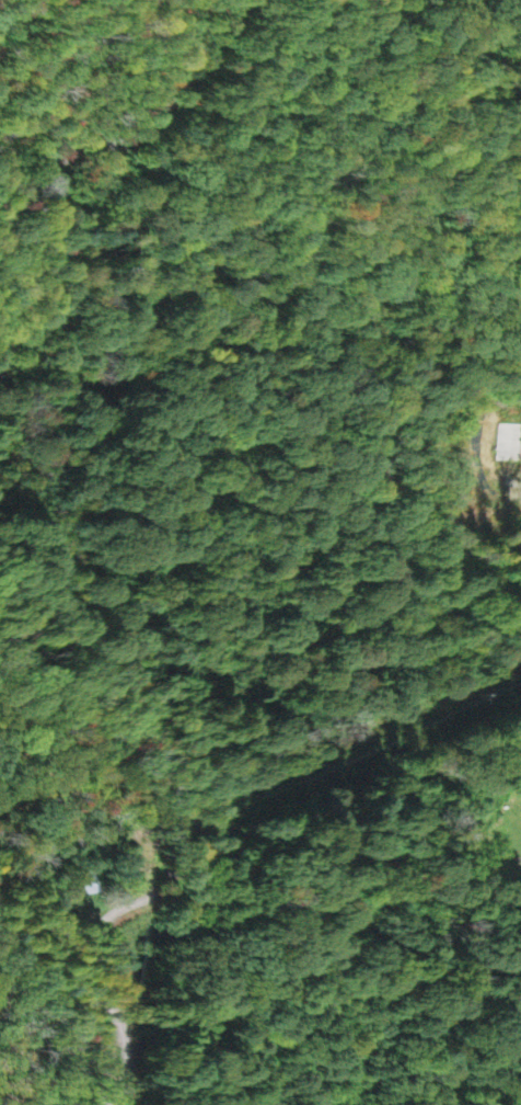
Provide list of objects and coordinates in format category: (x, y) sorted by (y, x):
road: (111, 550)

